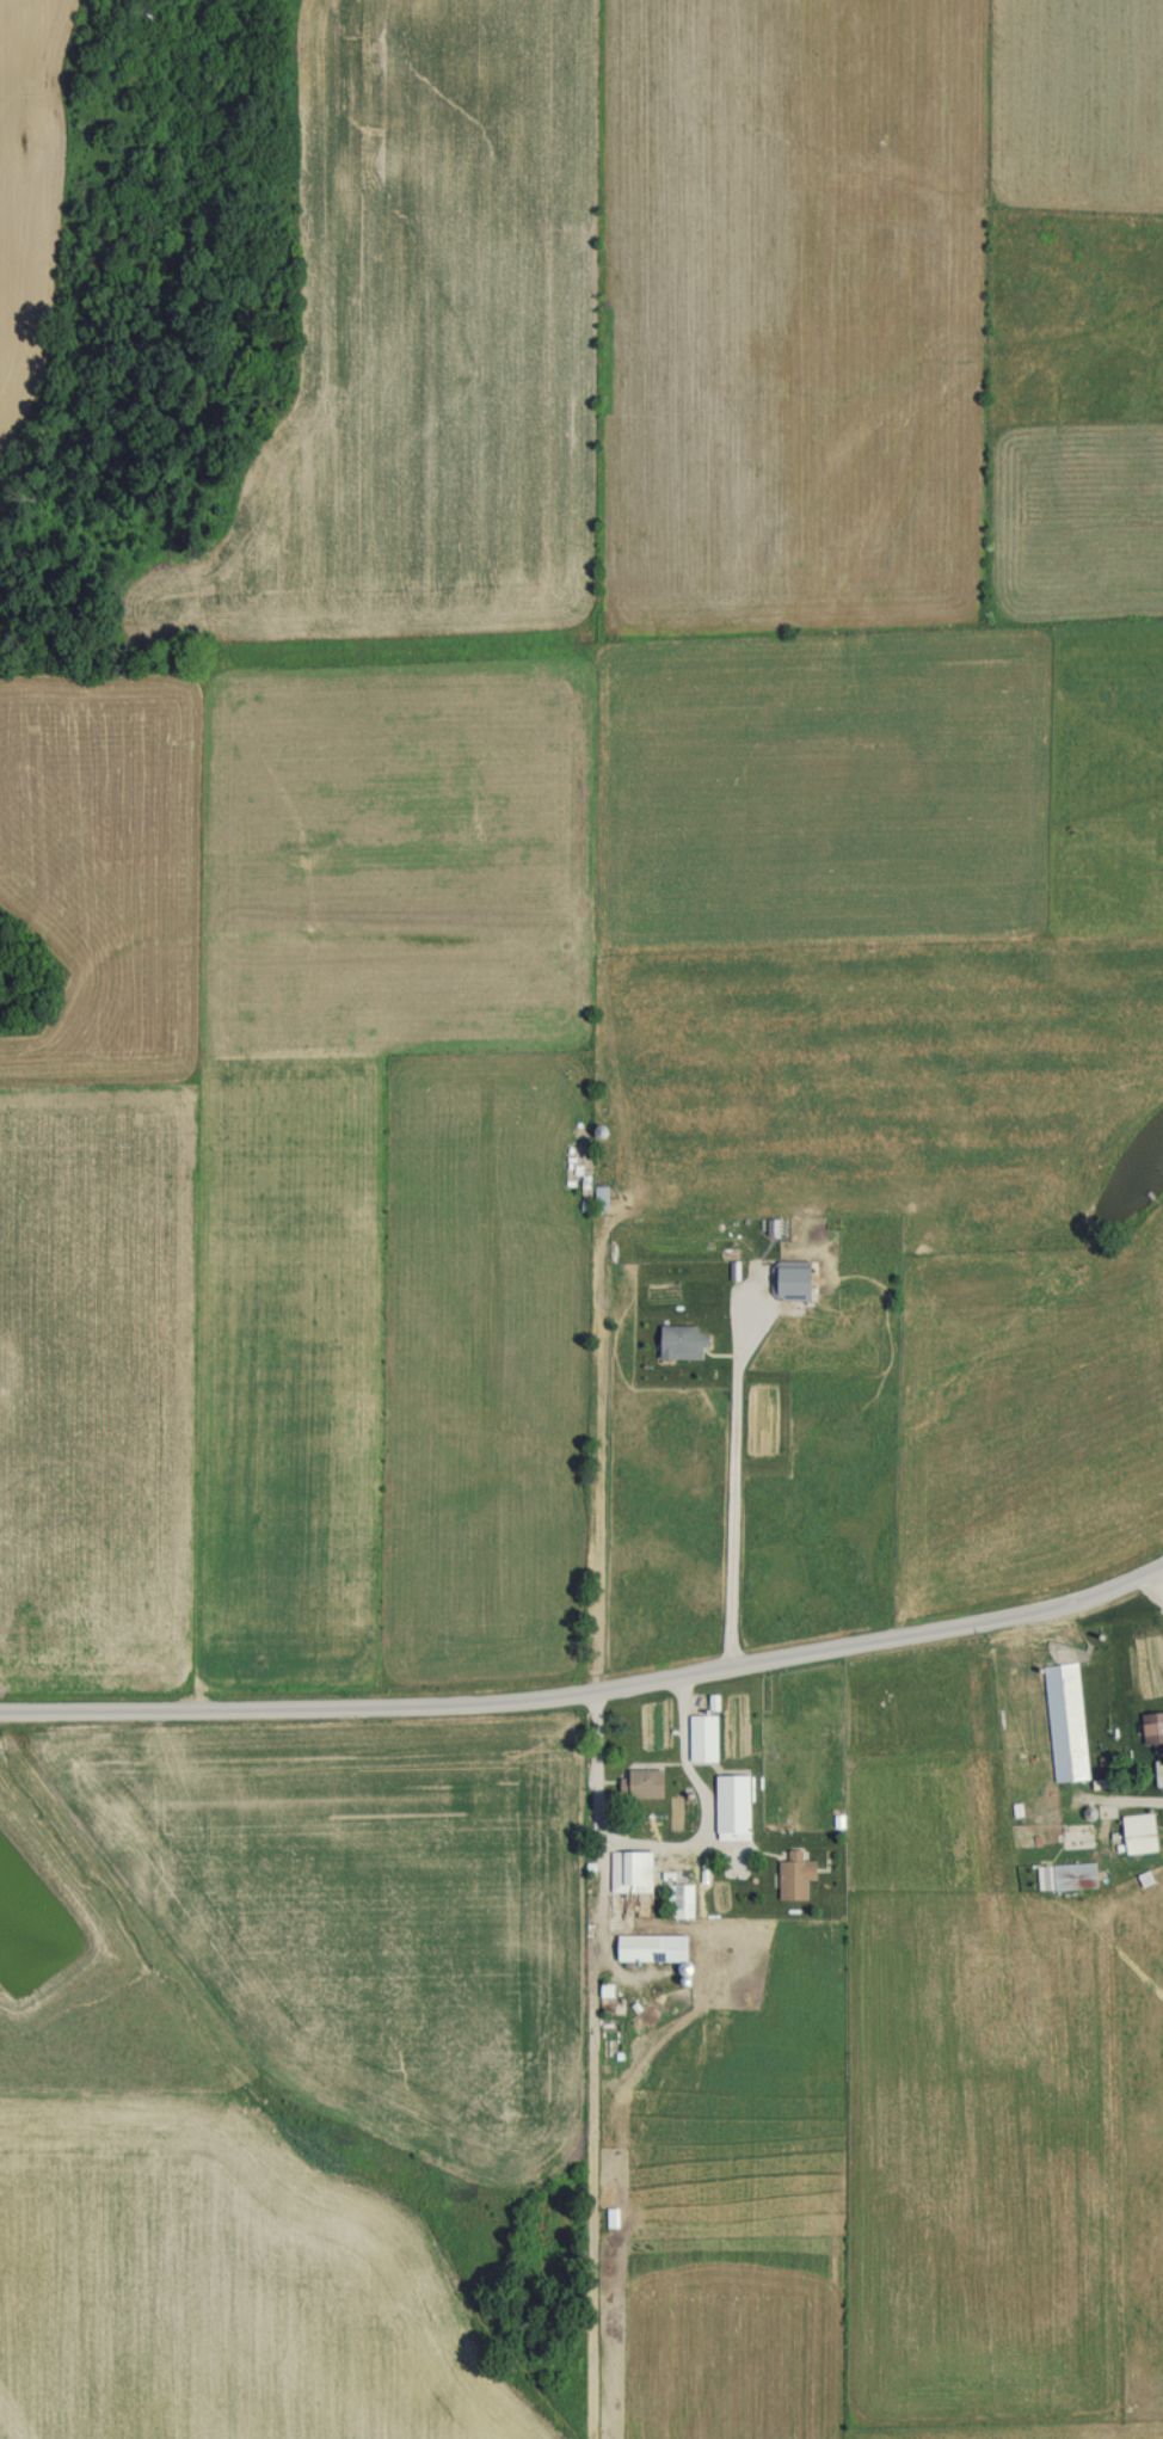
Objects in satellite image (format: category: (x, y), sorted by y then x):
building: (153, 8)
building: (597, 1198)
building: (788, 1280)
building: (677, 1341)
road: (738, 1480)
road: (1158, 1589)
road: (587, 1697)
building: (1065, 1721)
building: (1150, 1726)
building: (701, 1737)
building: (640, 1782)
building: (730, 1806)
building: (1137, 1832)
building: (1075, 1836)
road: (673, 1853)
building: (628, 1870)
building: (1072, 1875)
building: (793, 1878)
building: (681, 1900)
building: (647, 1947)

